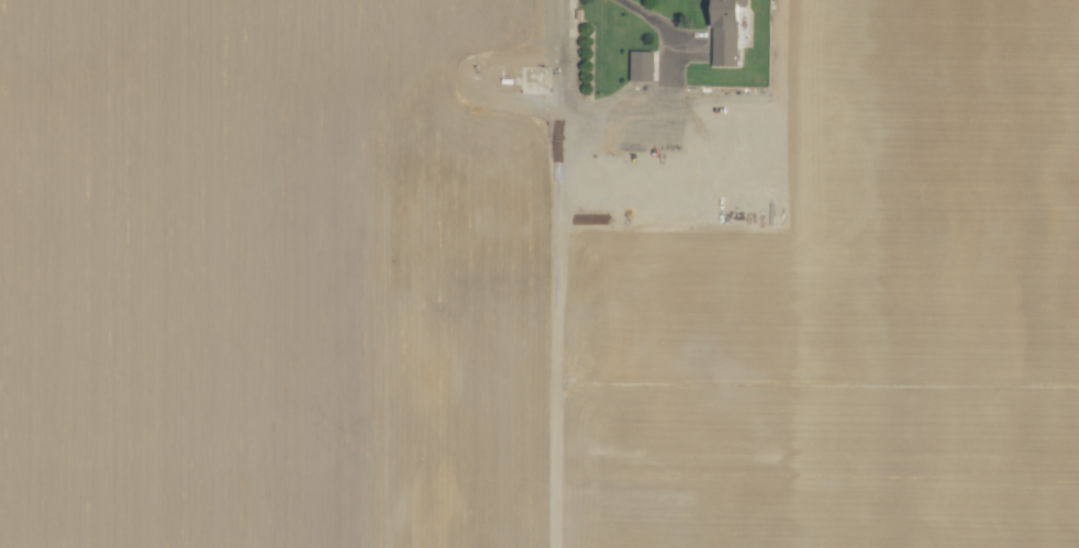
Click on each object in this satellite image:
building: (727, 30)
road: (667, 79)
road: (782, 89)
road: (564, 92)
crop: (539, 273)

